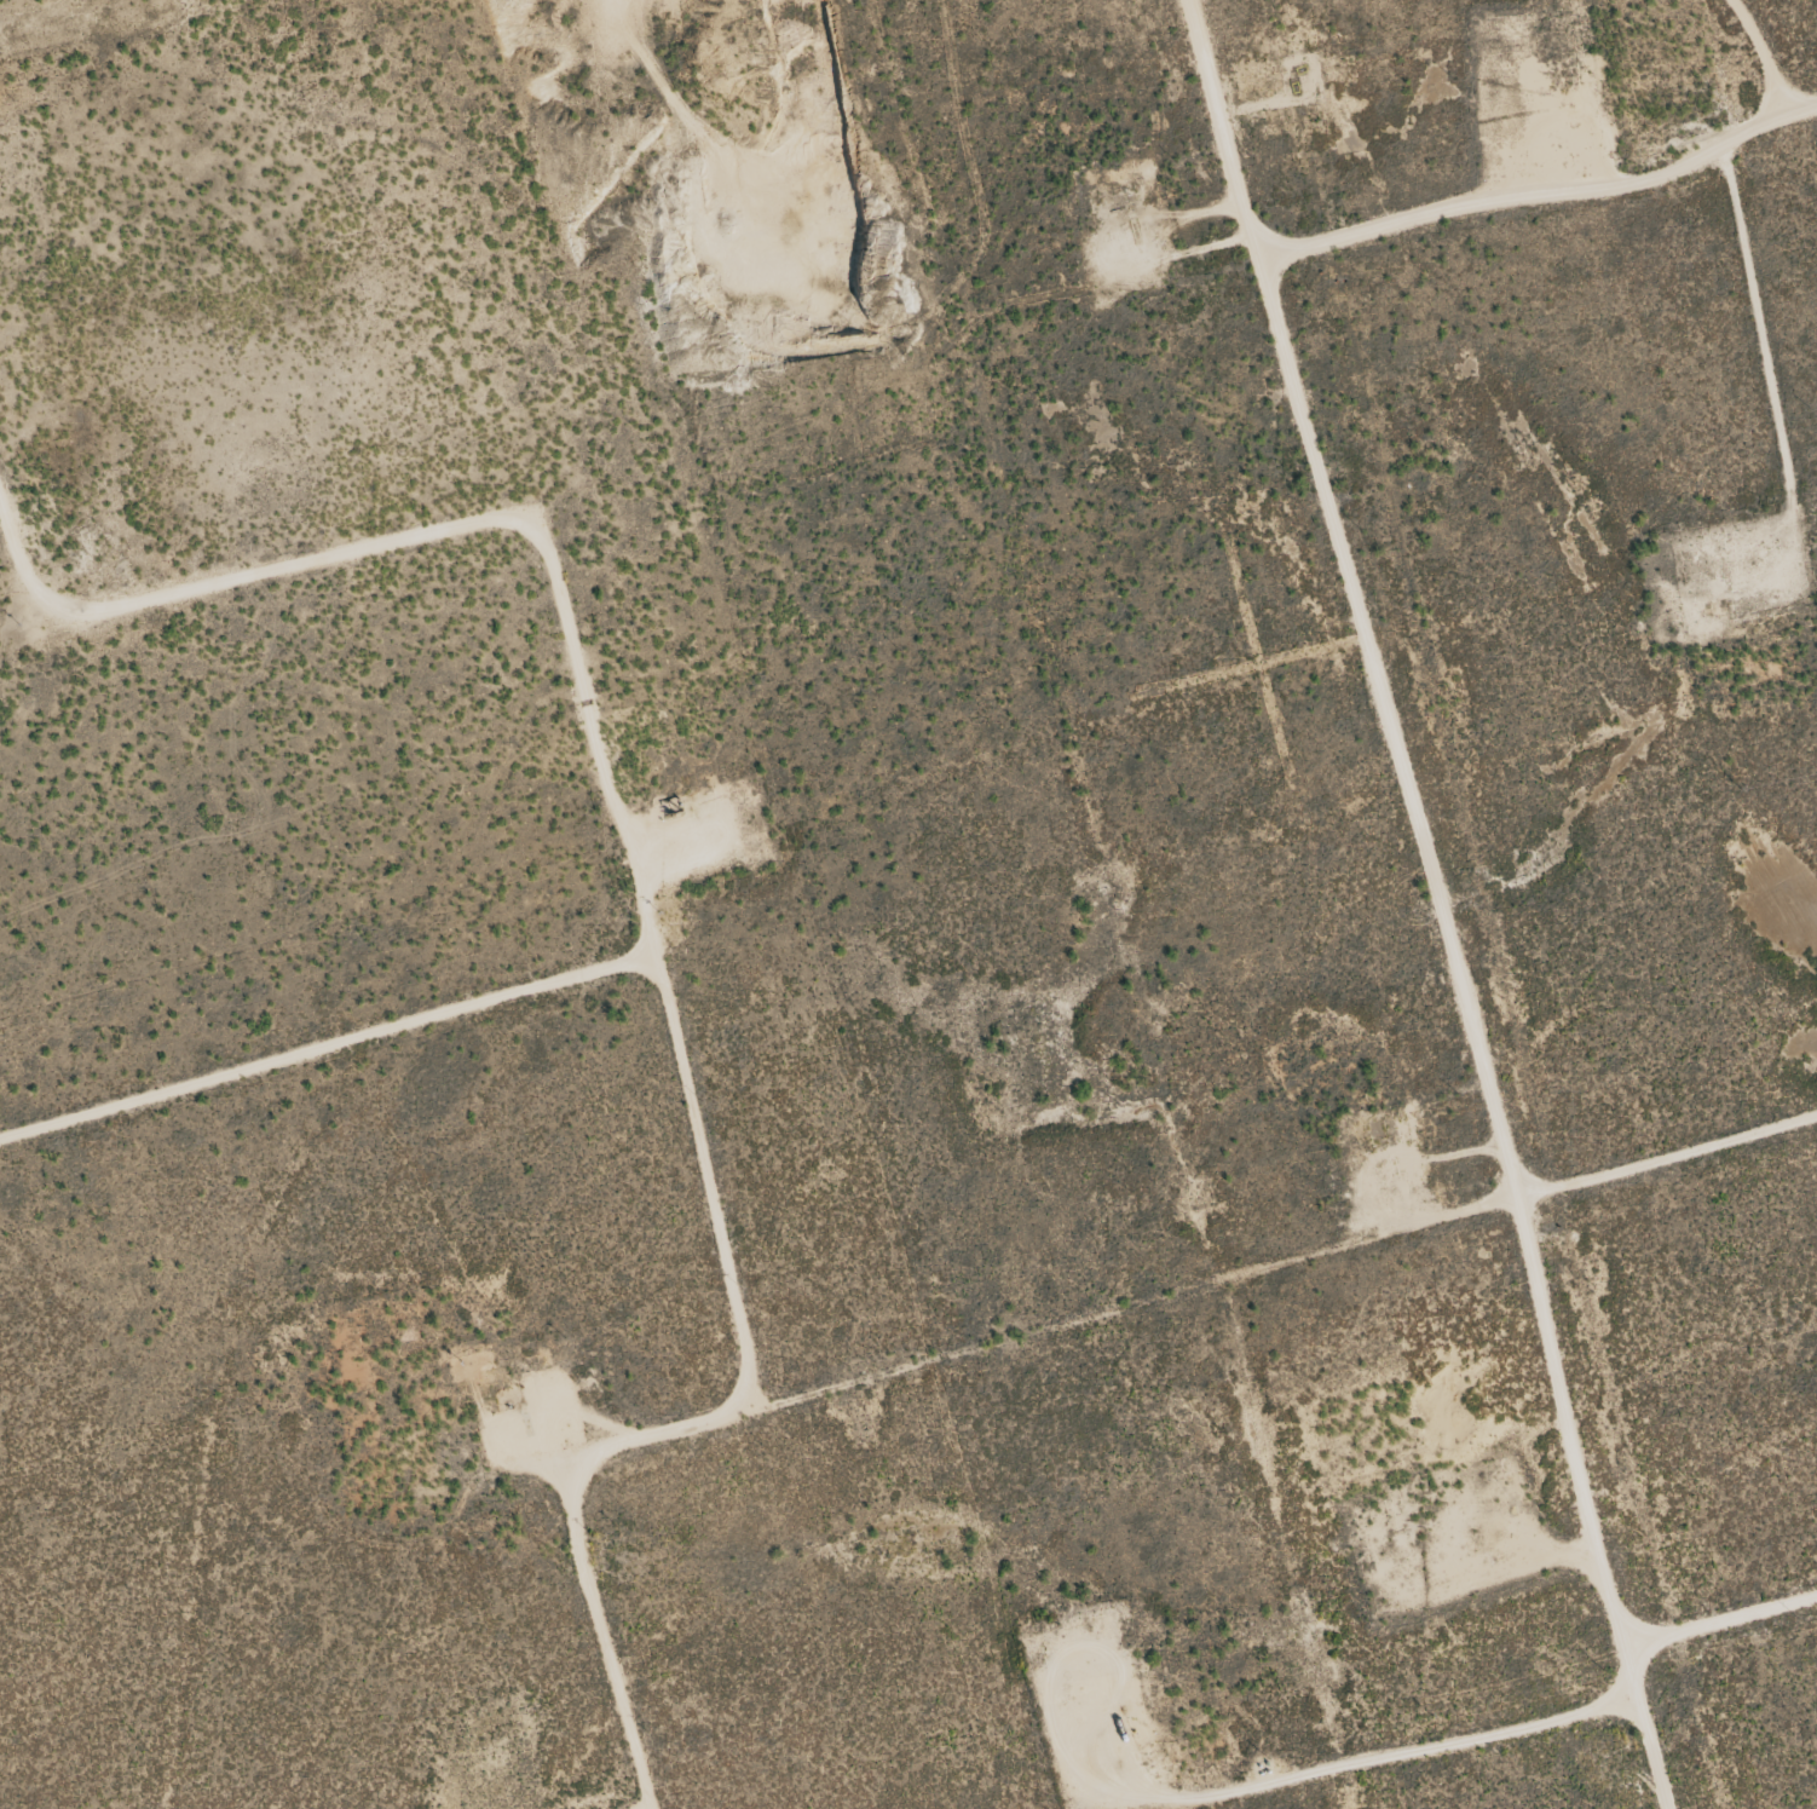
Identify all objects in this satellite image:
road: (1539, 196)
road: (578, 653)
road: (1438, 900)
road: (1023, 1325)
road: (1723, 1624)

